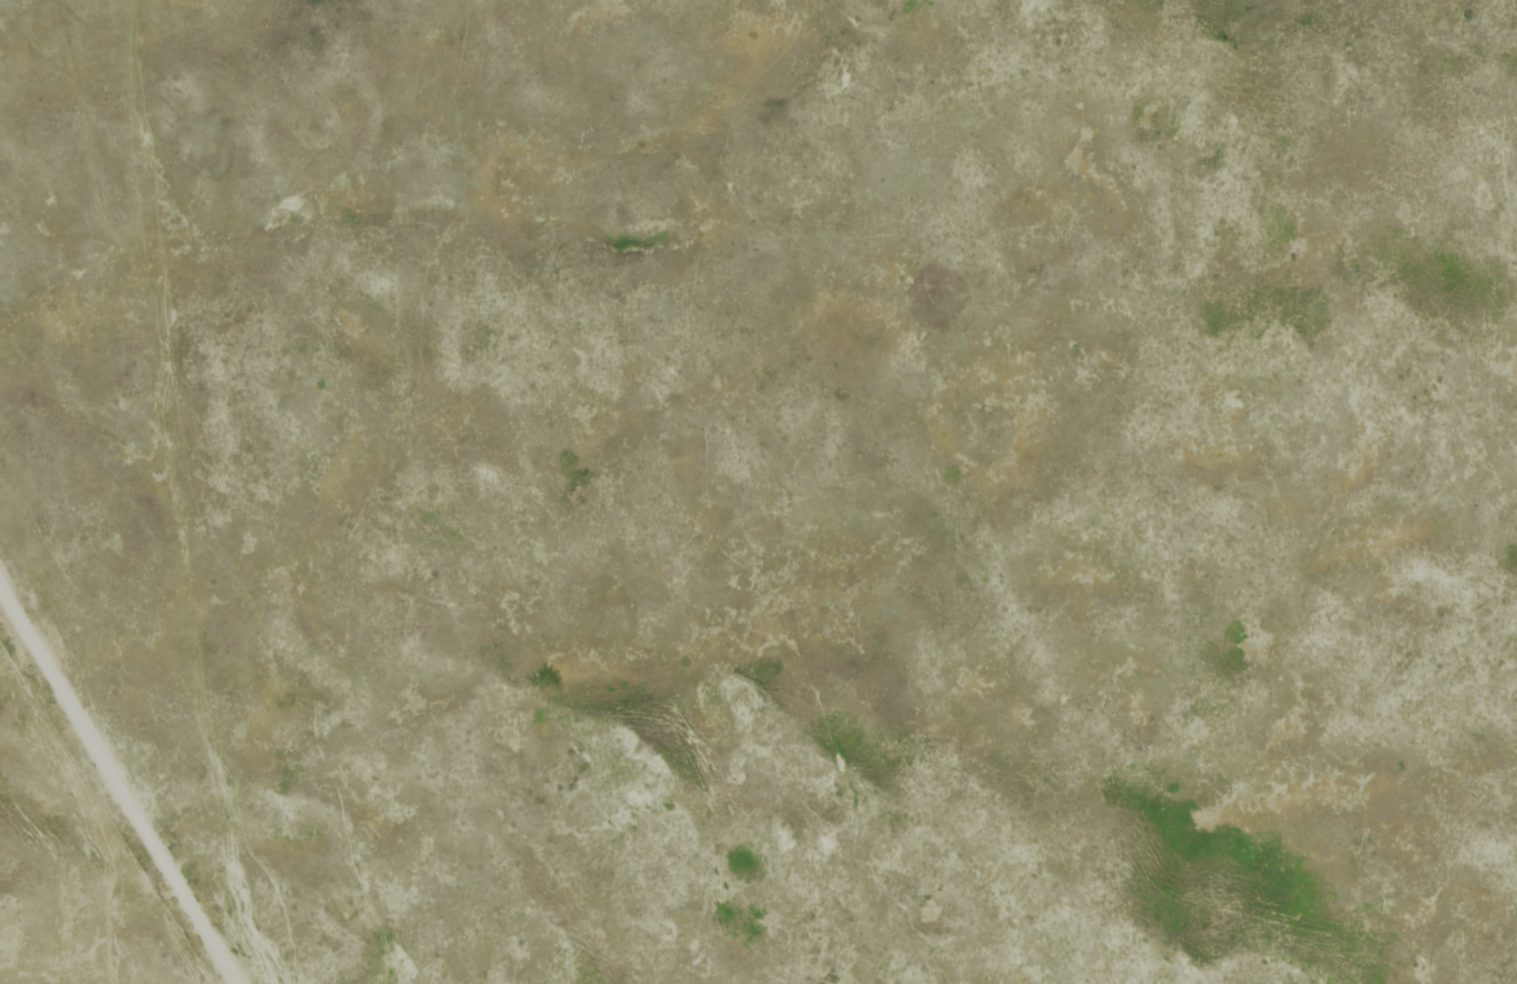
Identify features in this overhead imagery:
road: (119, 785)

